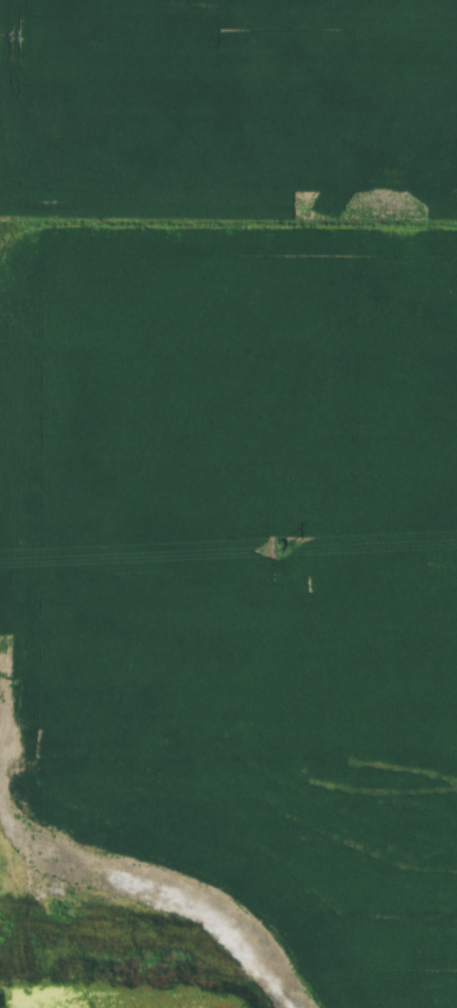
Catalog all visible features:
power tower: (278, 548)

